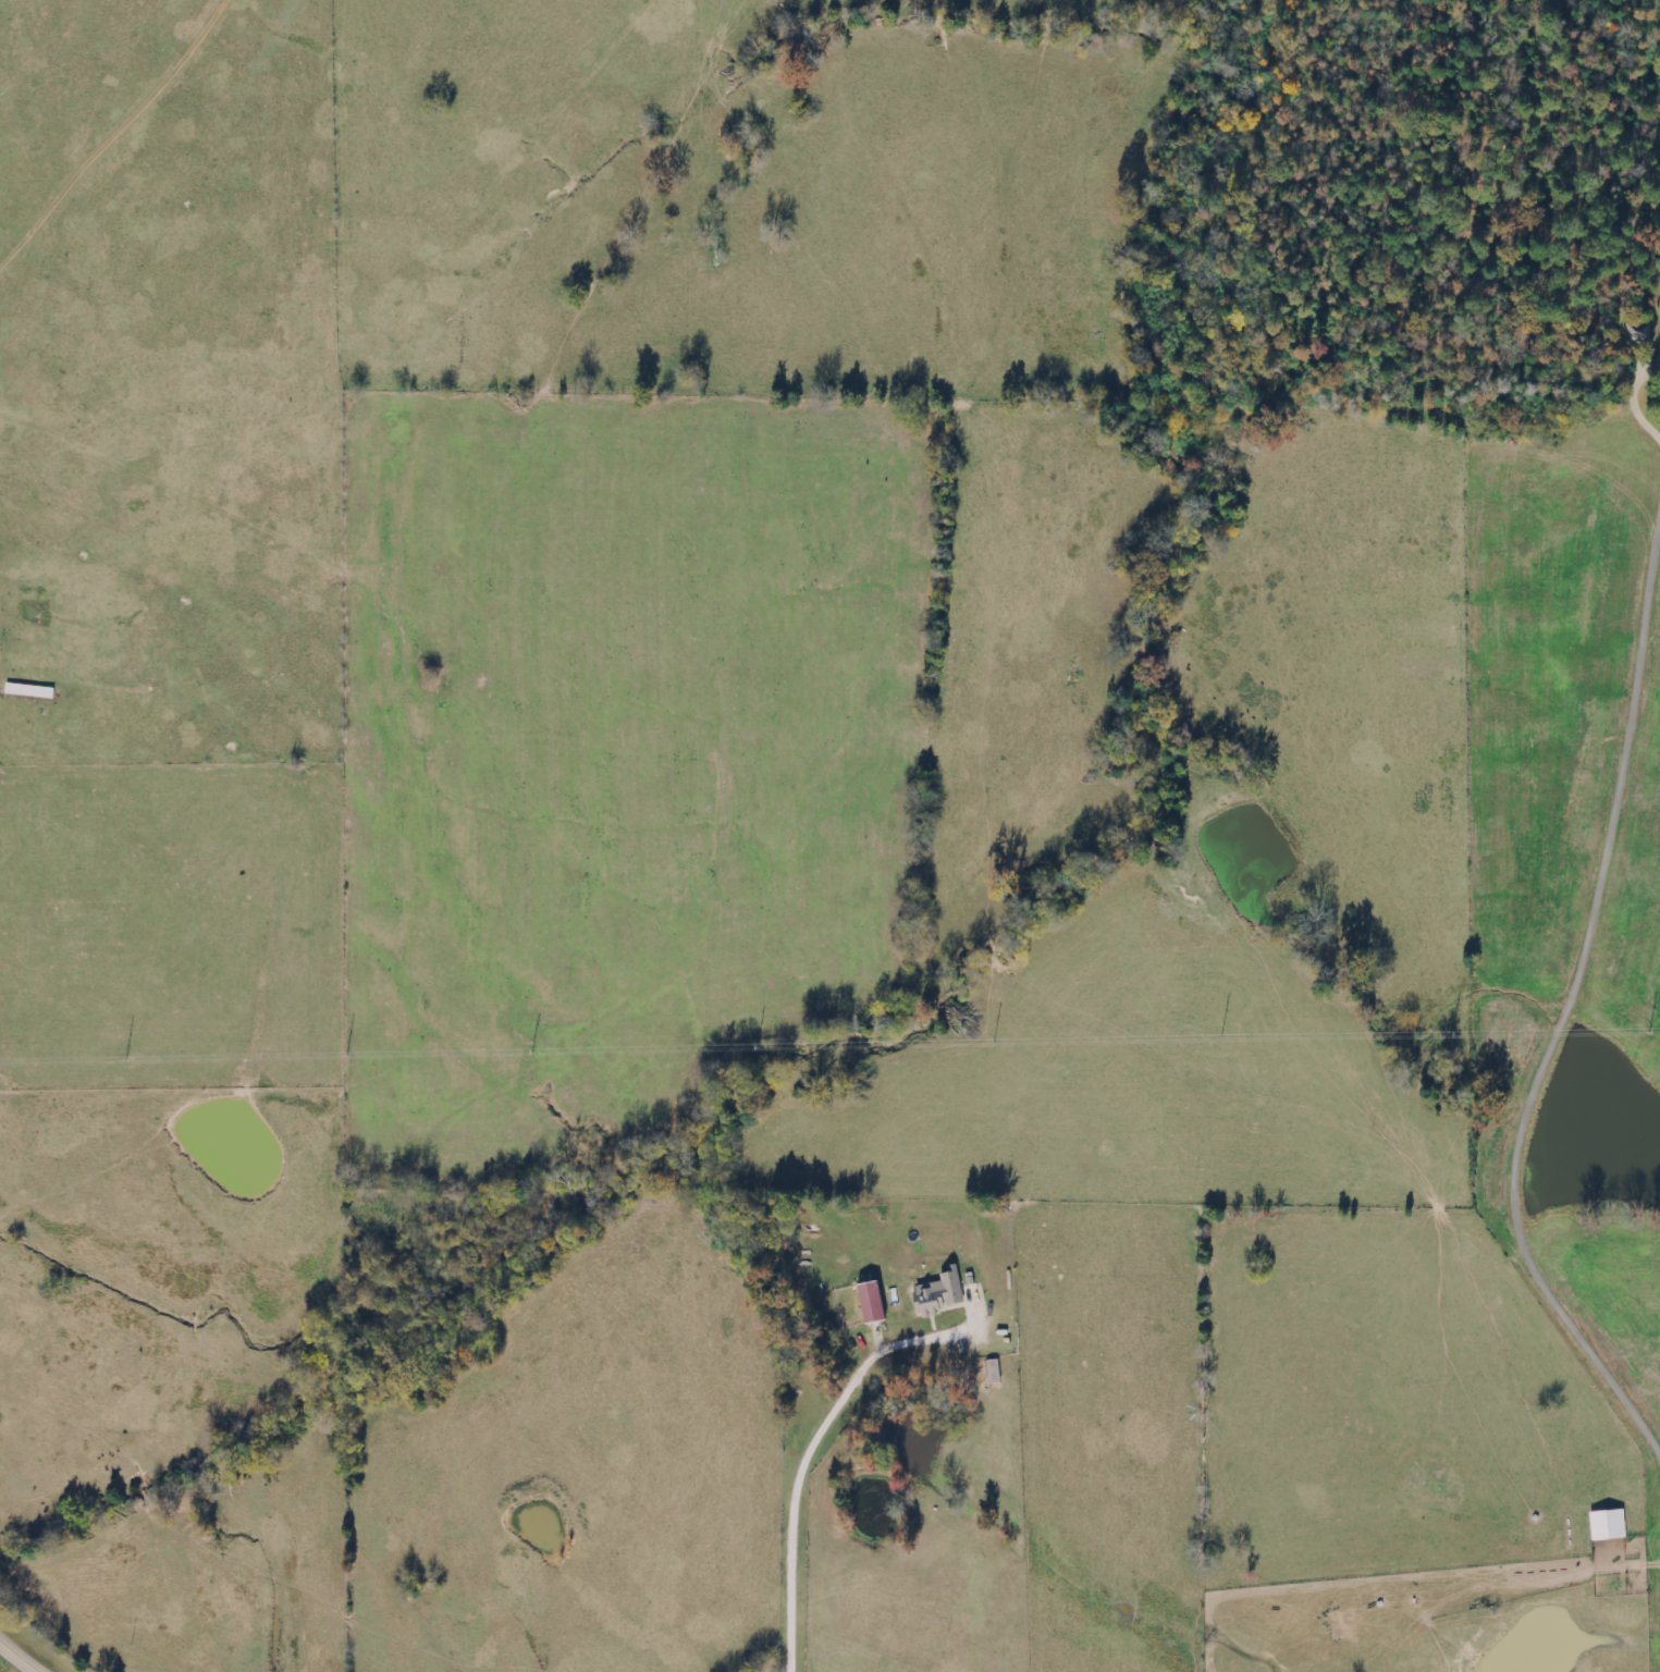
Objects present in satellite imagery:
building: (940, 1294)
building: (873, 1303)
building: (995, 1372)
building: (1609, 1524)
road: (16, 1658)

